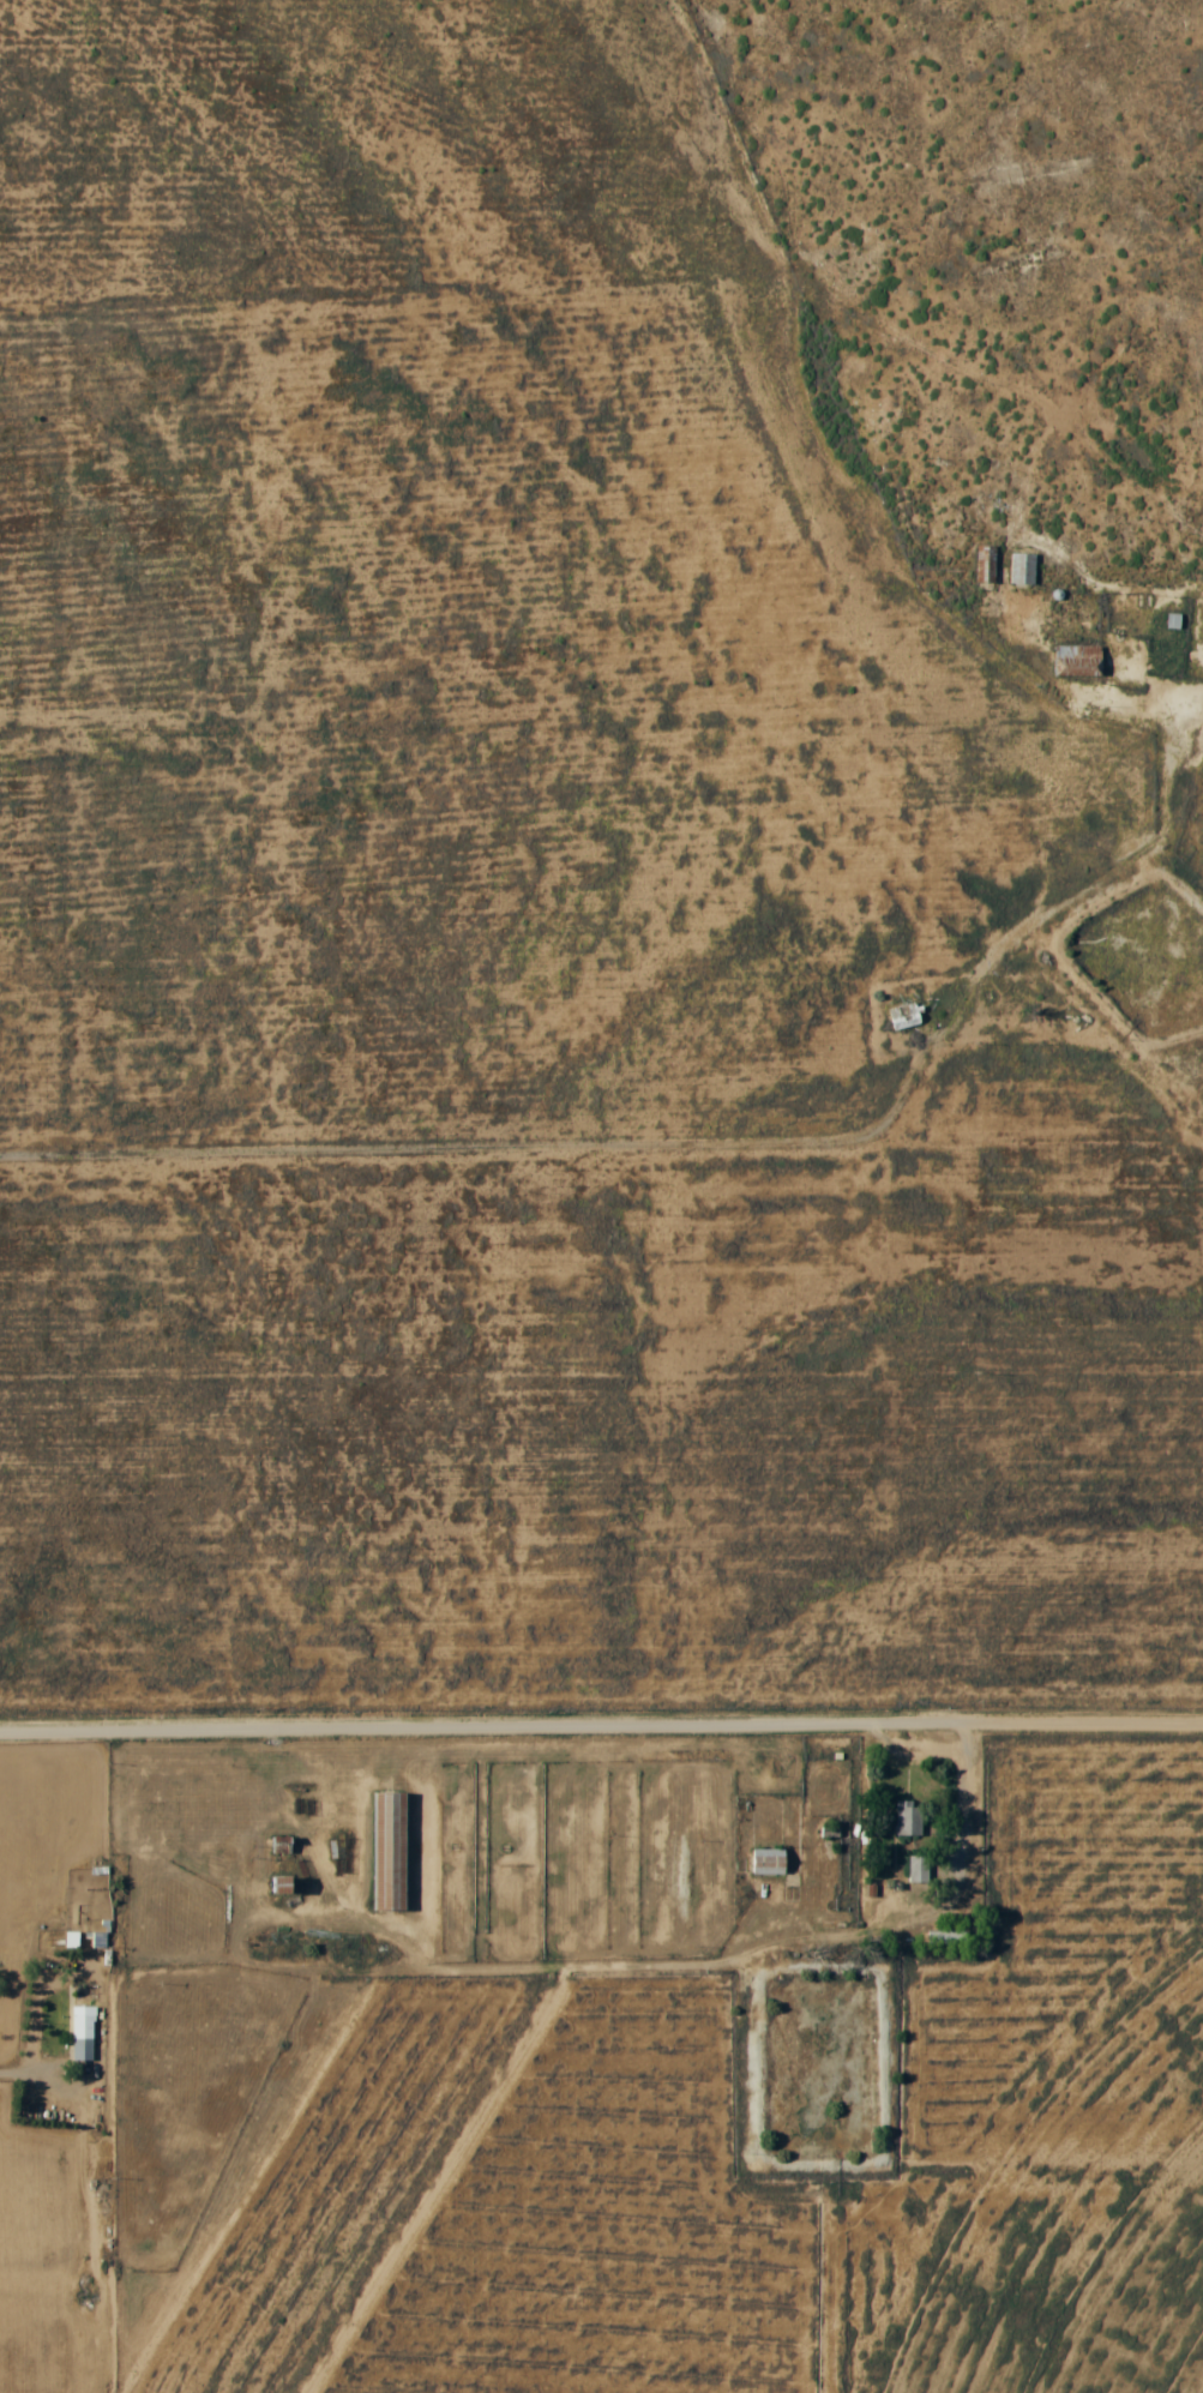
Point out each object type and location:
building: (987, 563)
building: (1024, 567)
building: (1078, 660)
building: (904, 1016)
road: (499, 1146)
road: (601, 1726)
building: (910, 1816)
building: (390, 1851)
building: (769, 1860)
building: (920, 1868)
building: (283, 1883)
building: (948, 1936)
building: (82, 2031)

